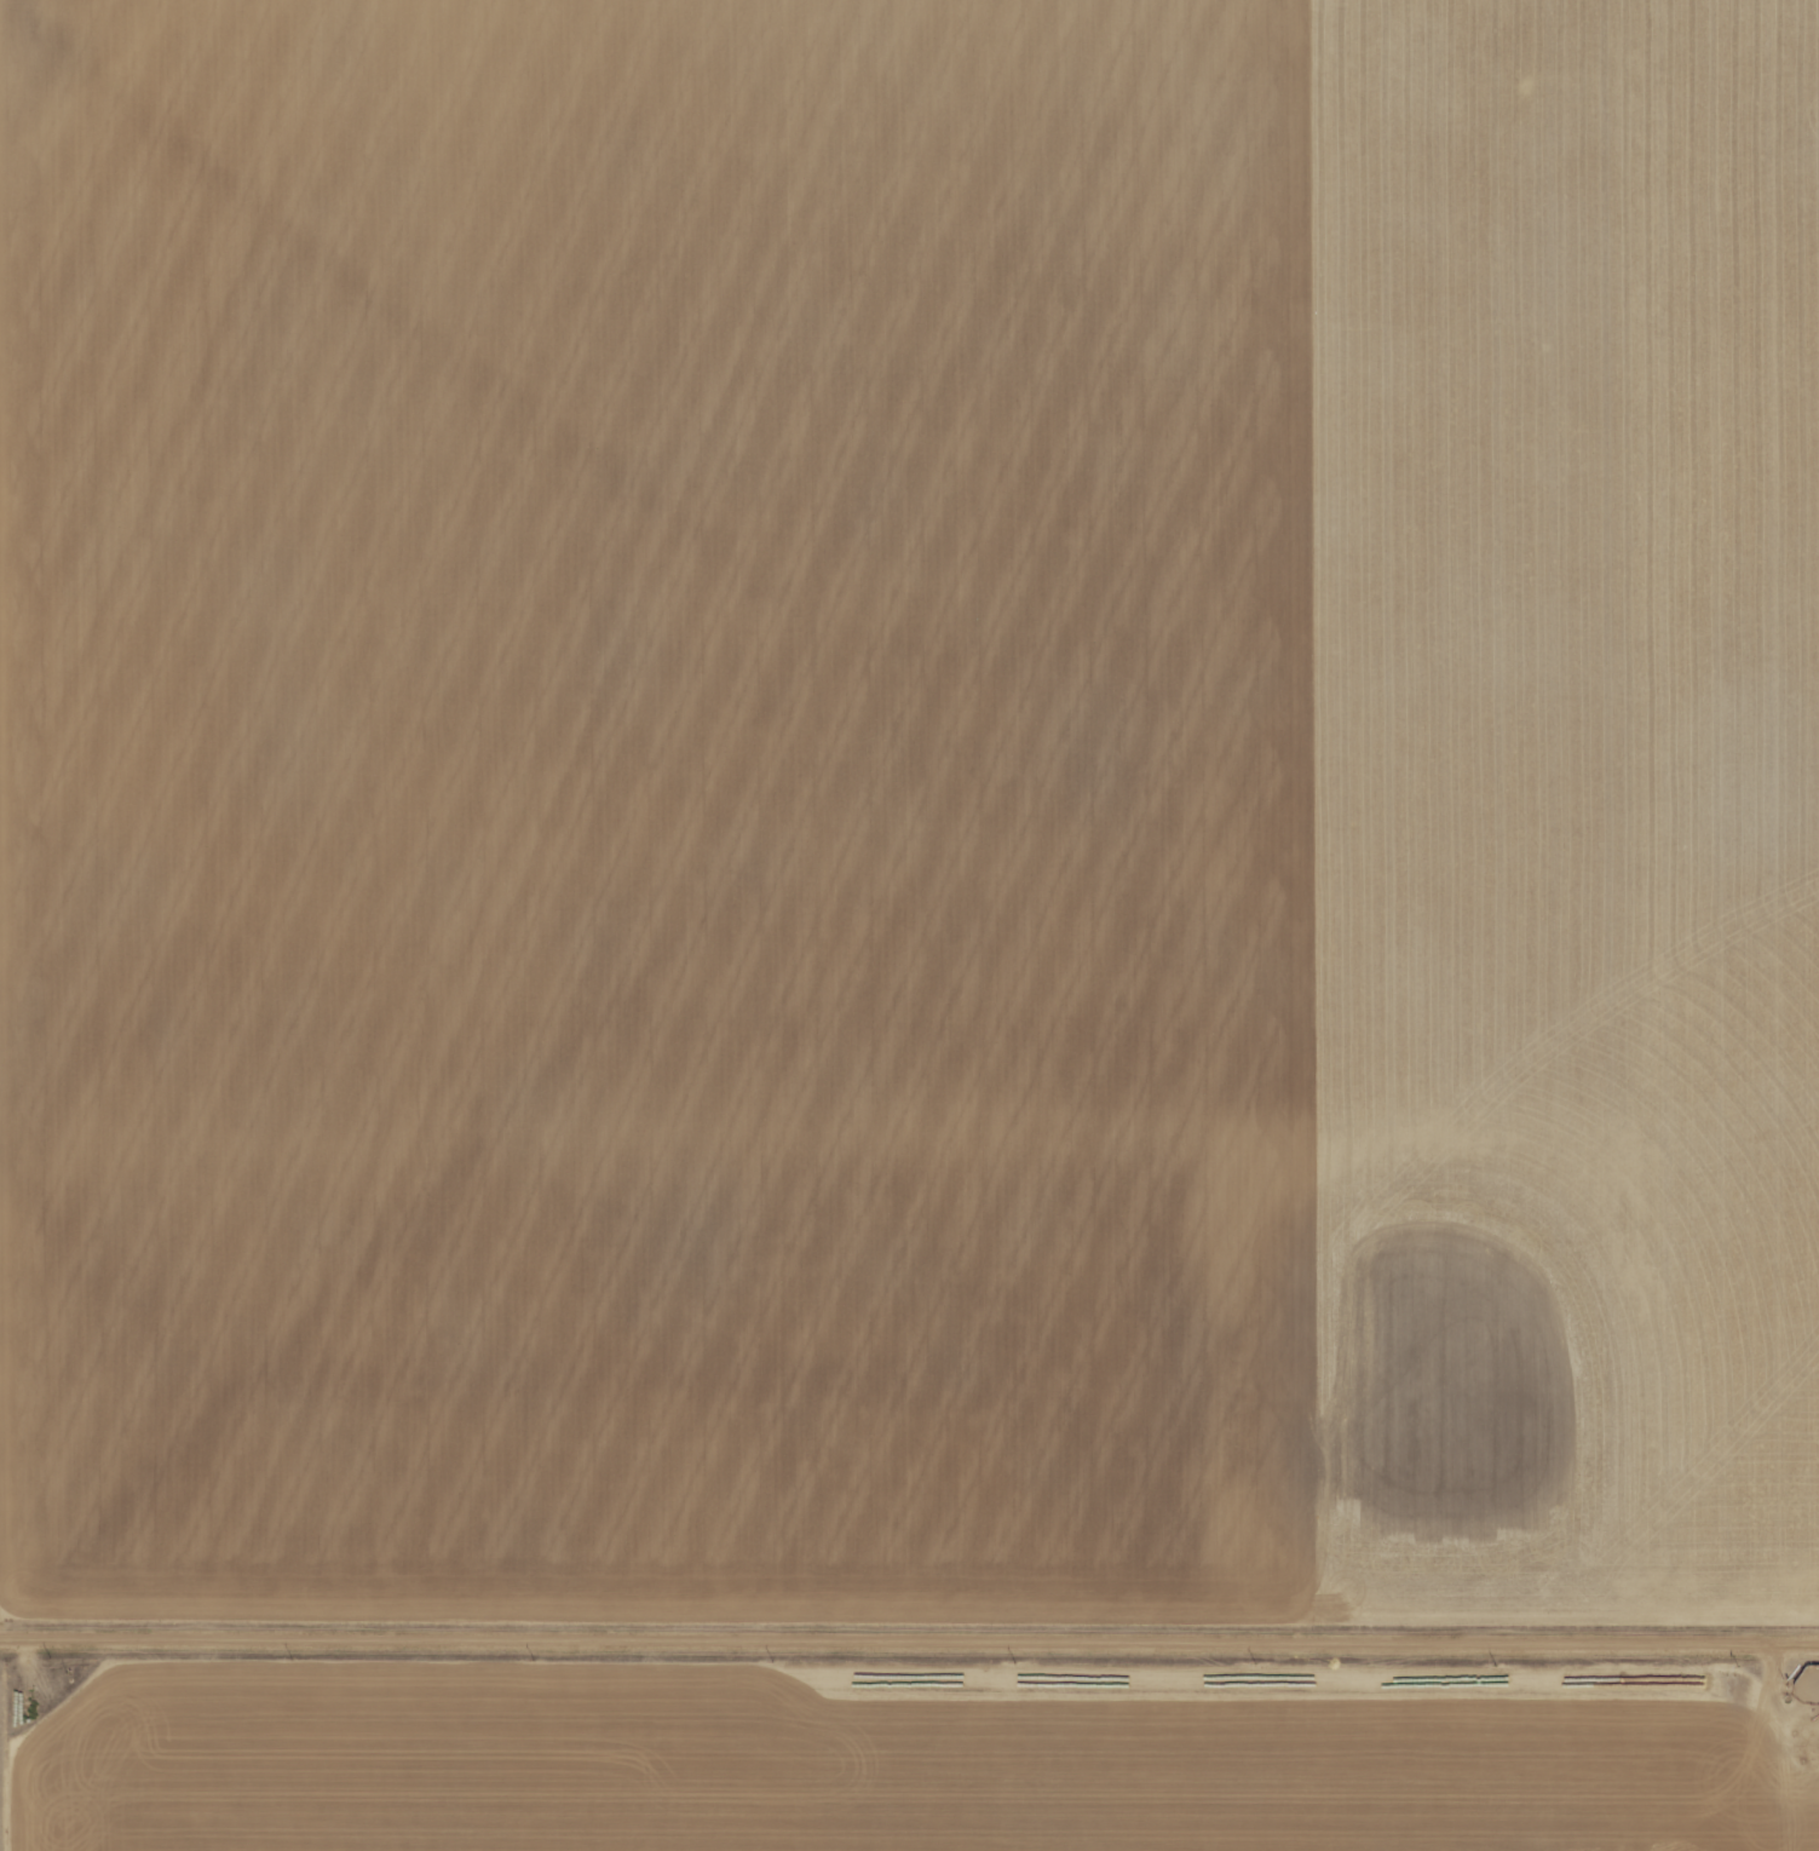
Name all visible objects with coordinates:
road: (909, 1643)
road: (1739, 1748)

